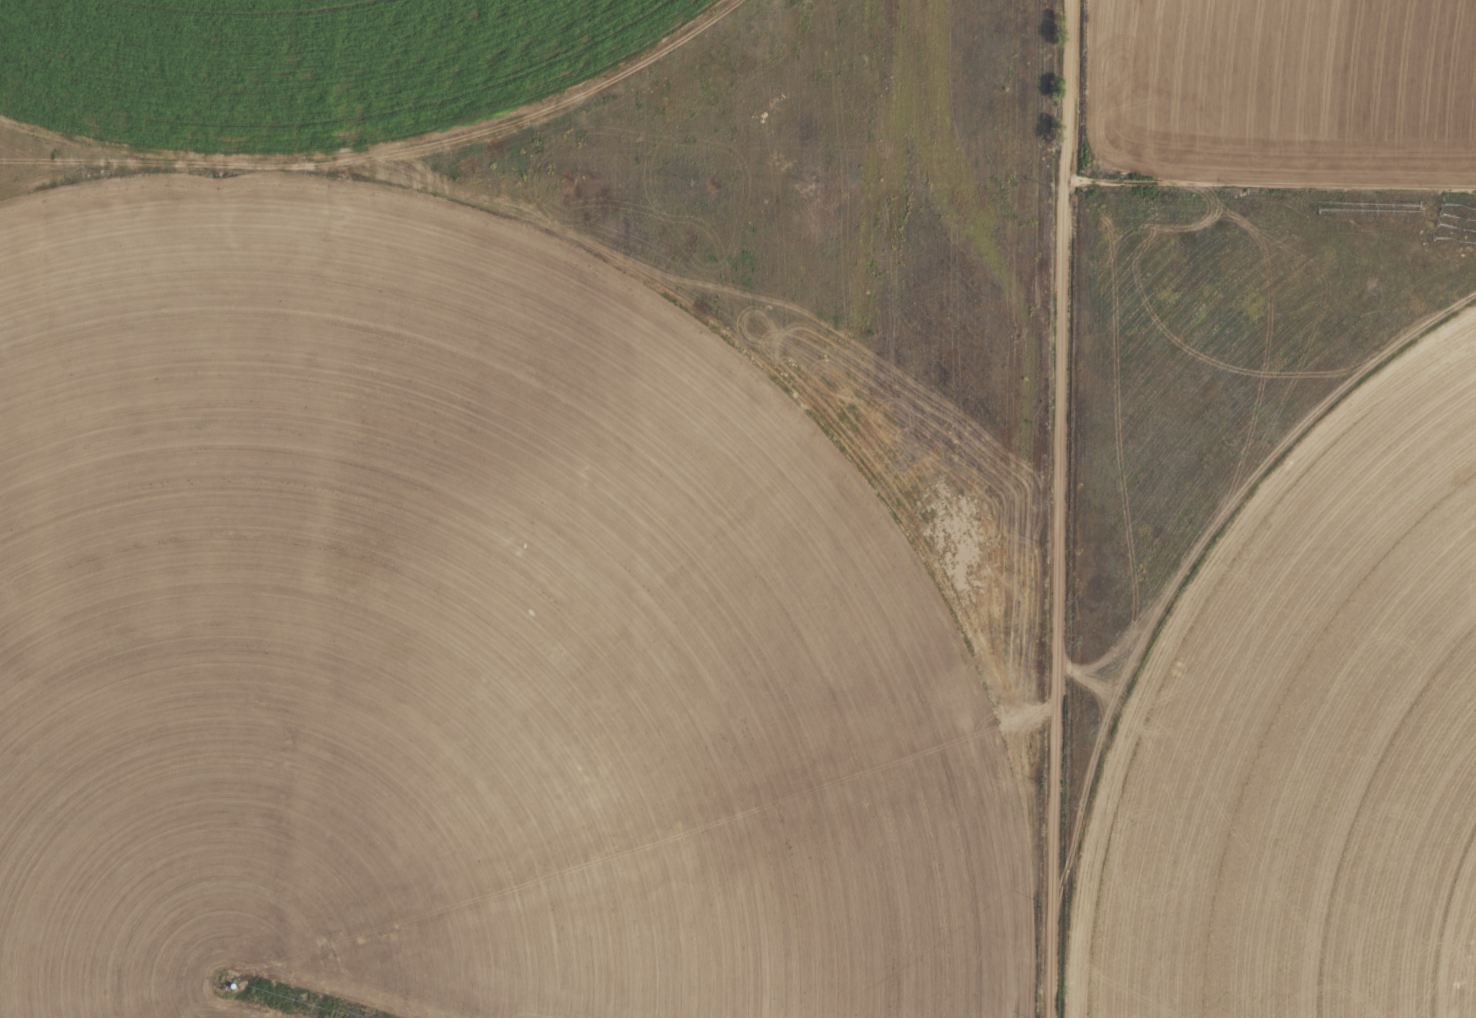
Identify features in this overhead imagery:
road: (1059, 509)

